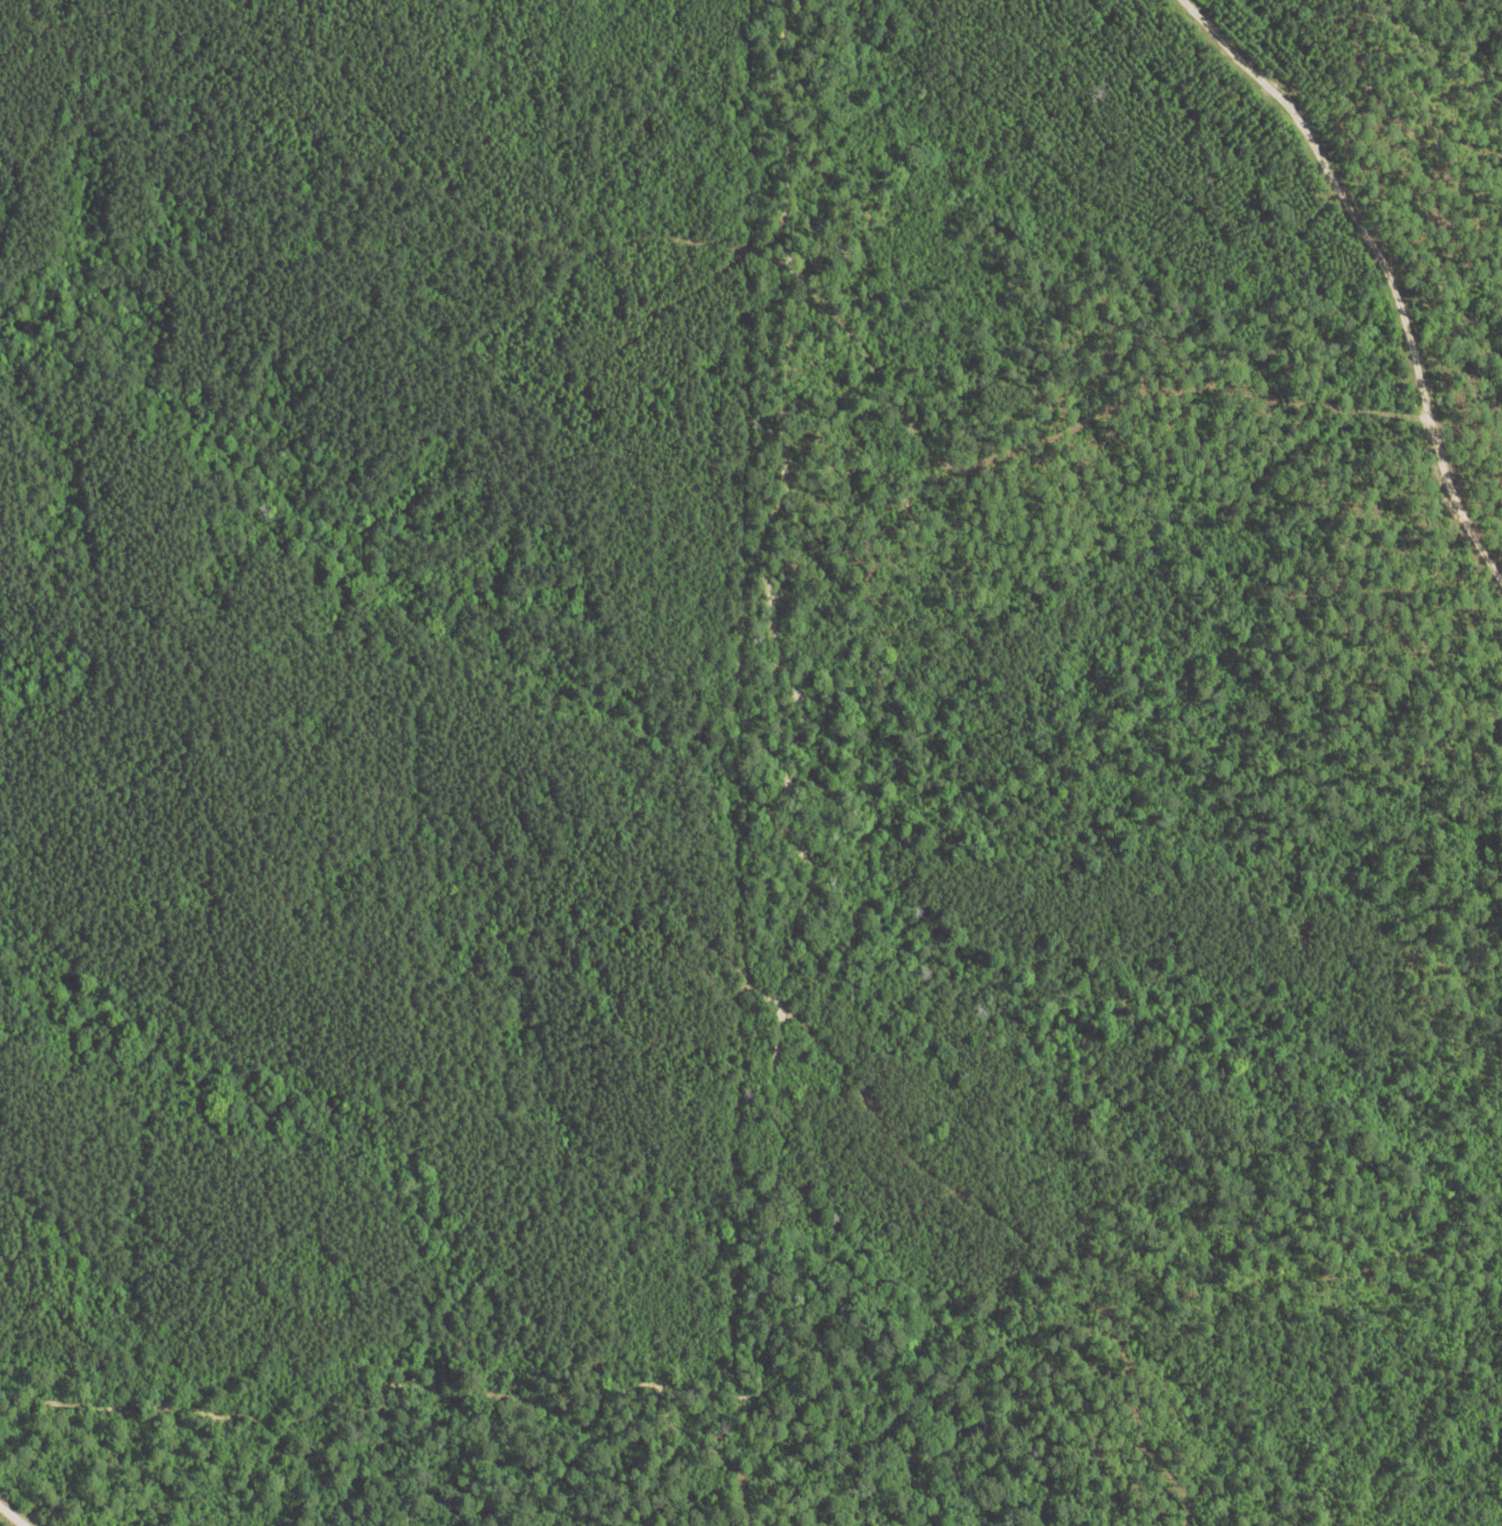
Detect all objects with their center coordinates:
road: (1385, 267)
road: (11, 1516)

